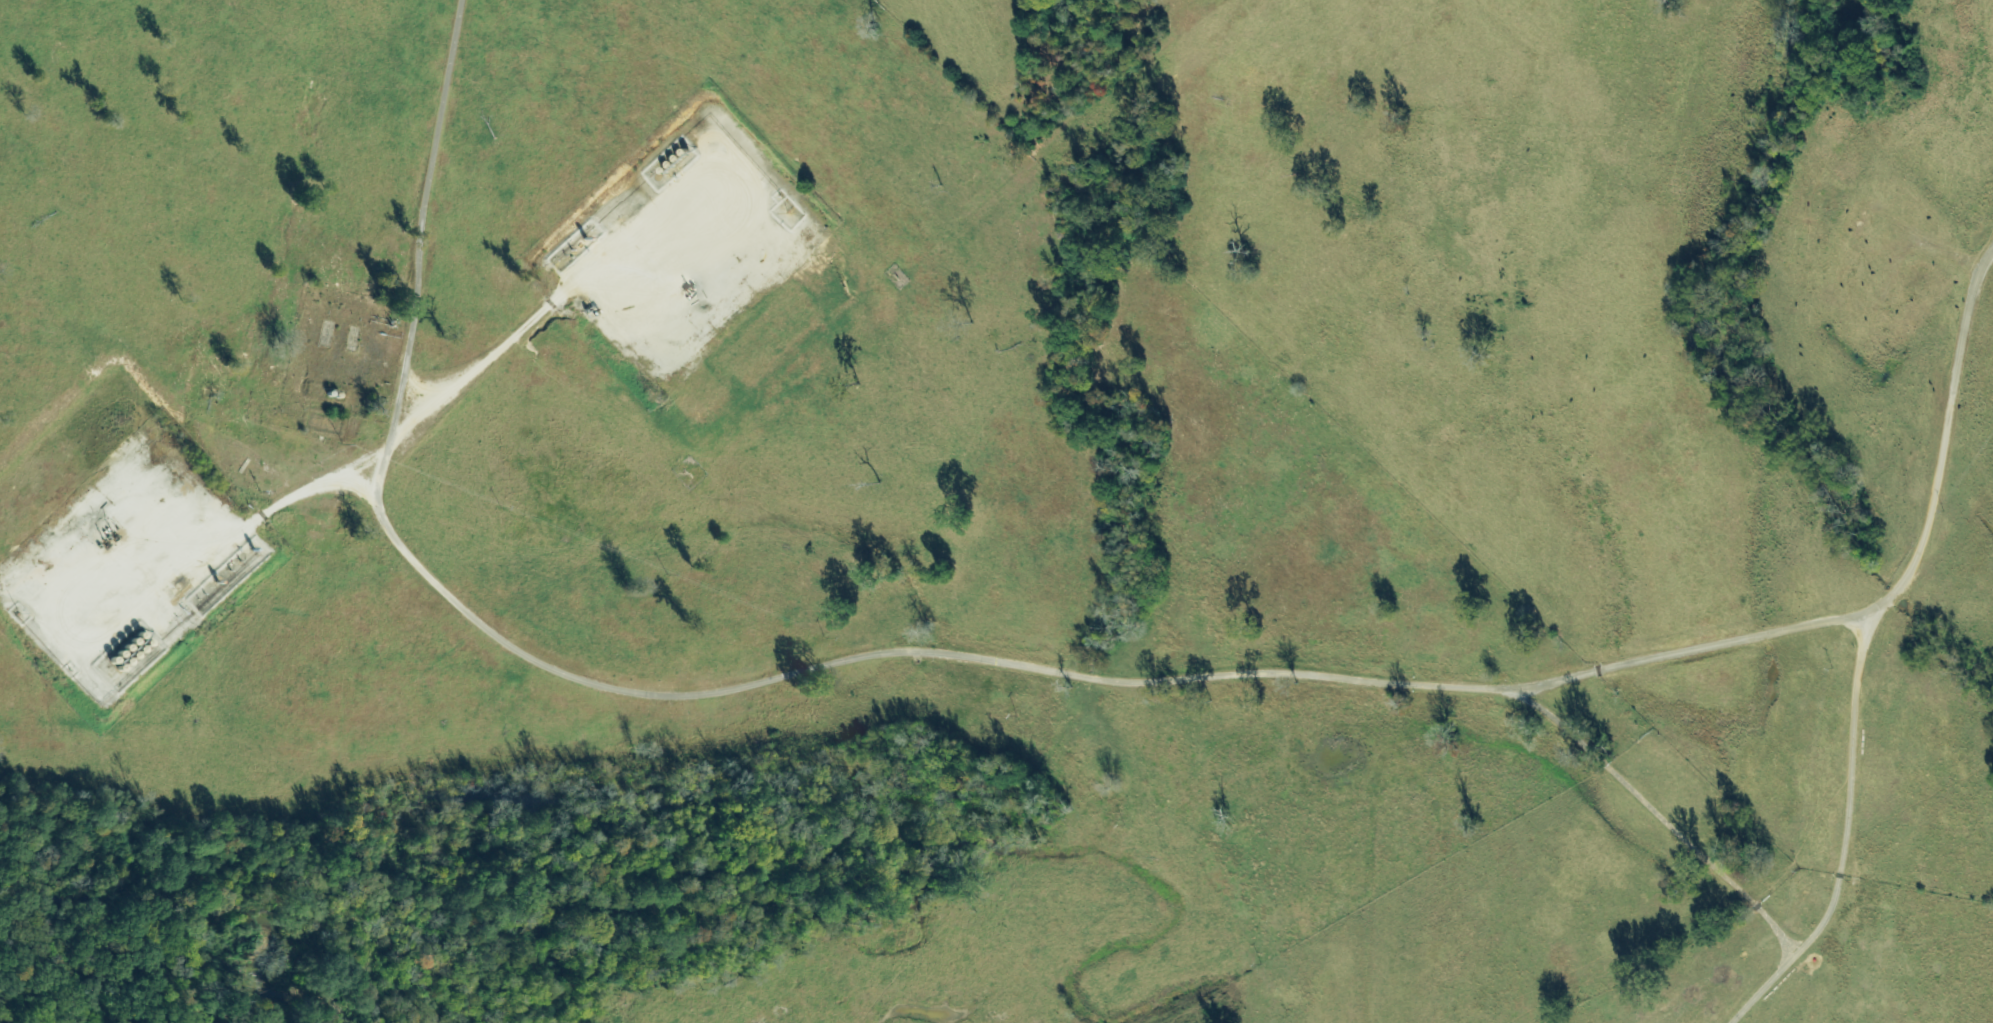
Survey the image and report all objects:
petroleum well: (687, 288)
petroleum well: (103, 531)

